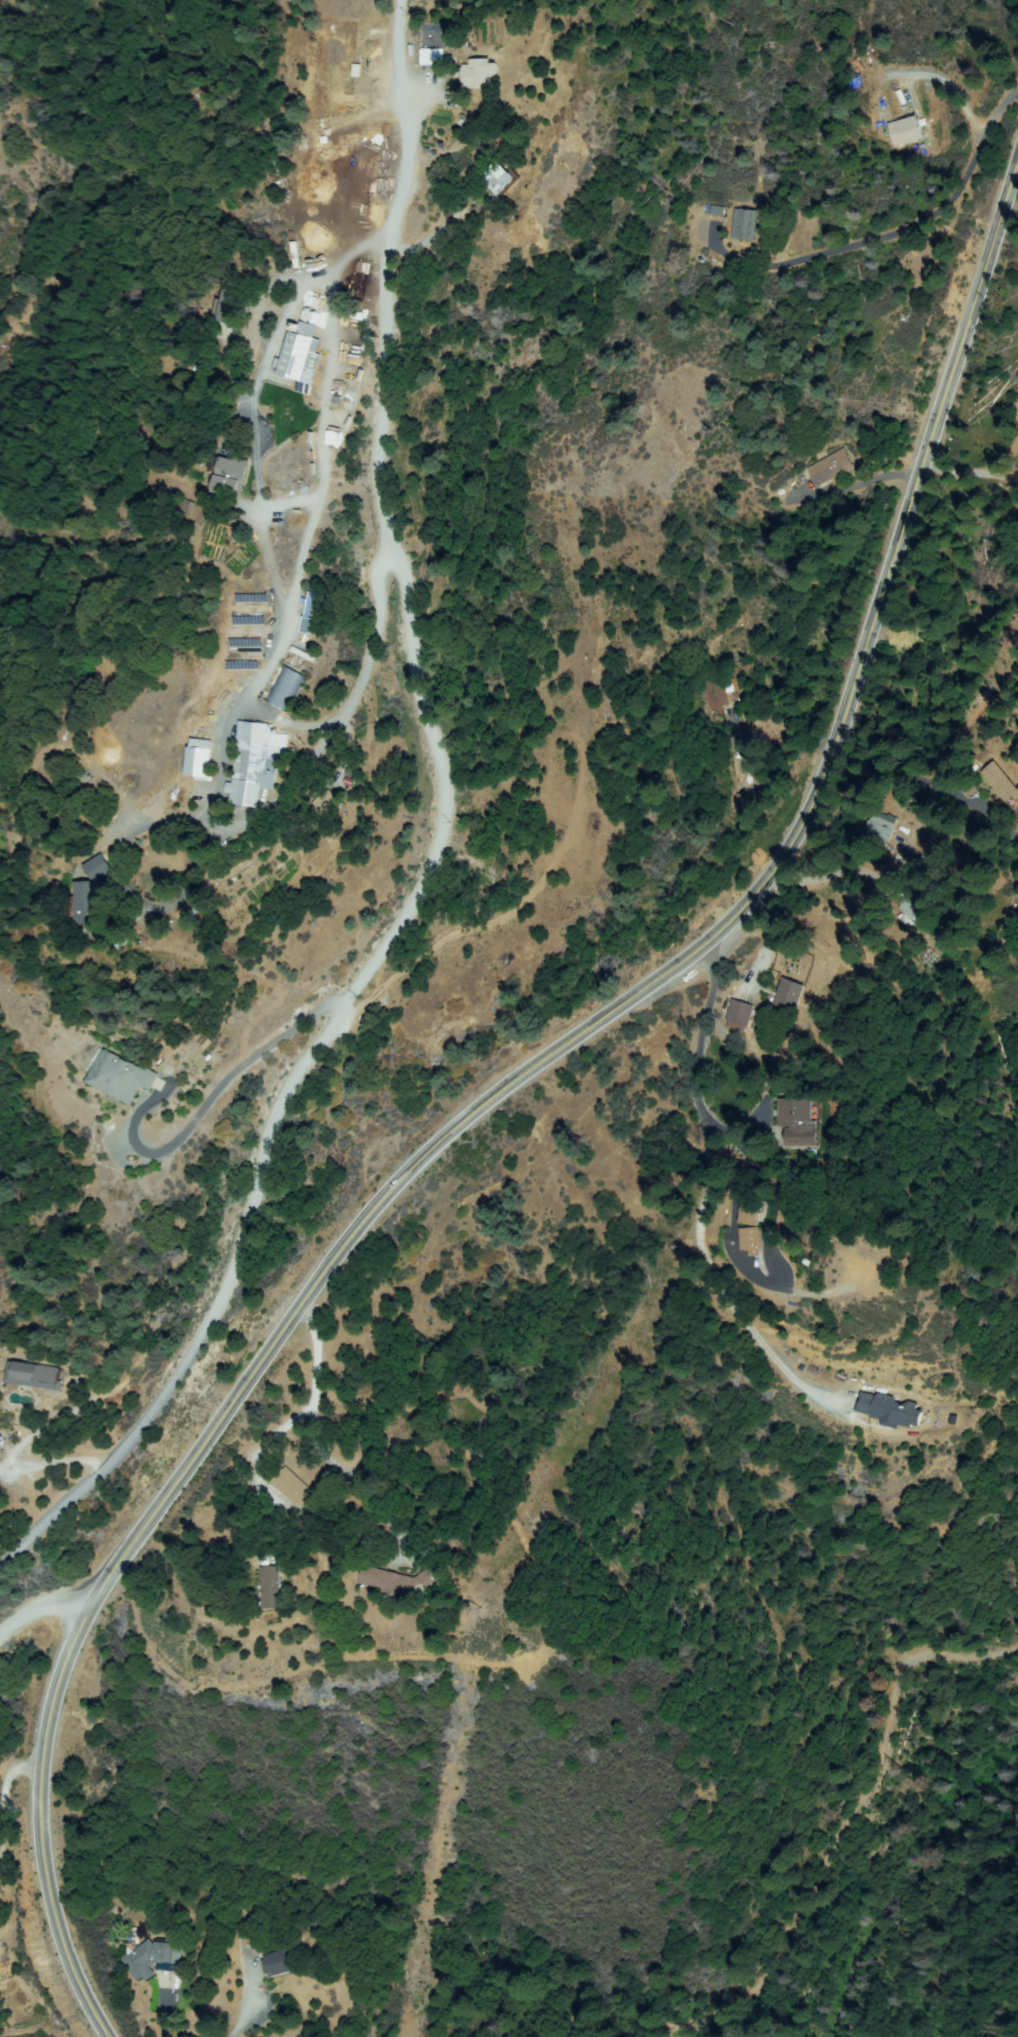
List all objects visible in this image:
building: (452, 30)
building: (478, 74)
building: (499, 179)
building: (746, 225)
building: (227, 308)
building: (358, 317)
building: (357, 357)
building: (300, 358)
building: (831, 468)
building: (228, 477)
road: (972, 482)
building: (306, 605)
building: (304, 626)
building: (303, 655)
building: (286, 689)
building: (718, 694)
building: (200, 761)
building: (254, 763)
building: (1000, 782)
building: (743, 805)
building: (325, 806)
building: (879, 829)
building: (293, 832)
road: (443, 835)
building: (88, 866)
building: (99, 869)
building: (73, 900)
building: (922, 900)
building: (87, 902)
building: (1017, 904)
building: (906, 911)
building: (191, 915)
building: (1008, 927)
building: (927, 958)
road: (714, 991)
building: (789, 998)
building: (739, 1016)
building: (119, 1077)
road: (503, 1100)
building: (800, 1122)
building: (752, 1212)
building: (751, 1240)
building: (34, 1376)
building: (890, 1410)
building: (1, 1444)
building: (290, 1488)
building: (430, 1578)
building: (389, 1583)
building: (269, 1587)
road: (47, 1609)
road: (845, 1824)
building: (153, 1958)
building: (277, 1964)

